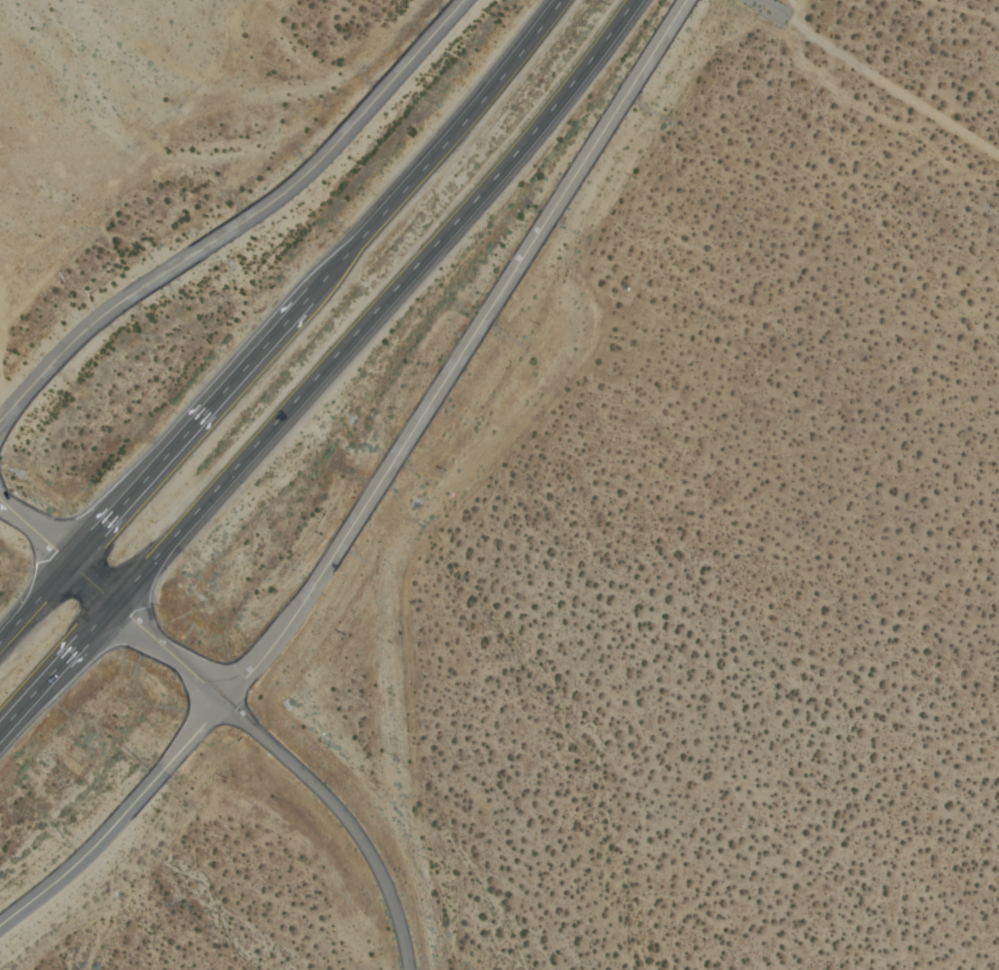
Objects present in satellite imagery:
road: (770, 10)
road: (242, 223)
road: (283, 324)
road: (321, 371)
road: (375, 488)
road: (237, 716)

